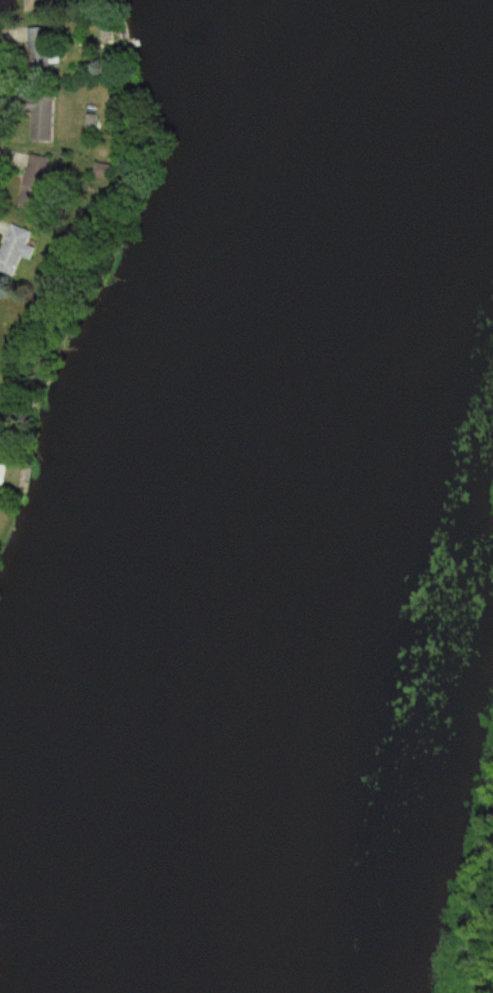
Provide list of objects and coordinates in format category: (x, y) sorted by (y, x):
building: (36, 5)
building: (34, 51)
building: (34, 116)
building: (32, 174)
building: (12, 250)
river: (321, 519)

